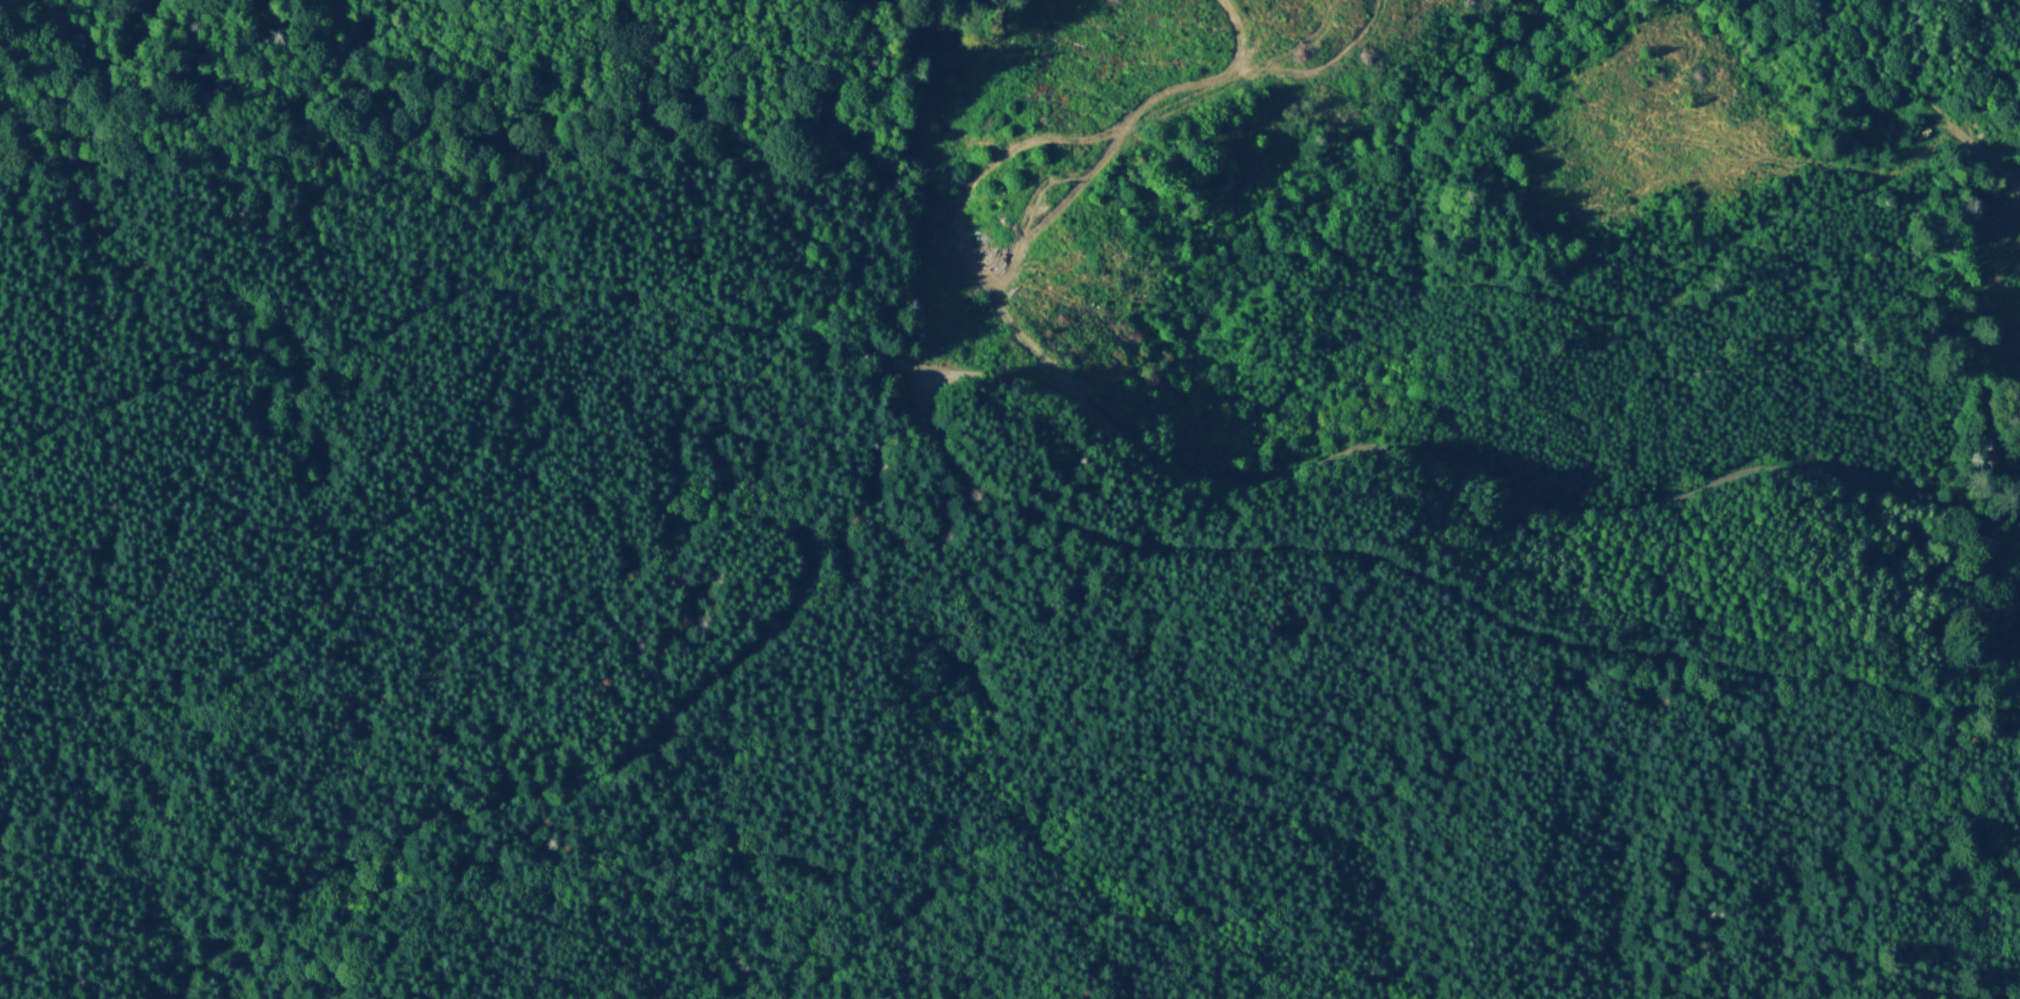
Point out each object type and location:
road: (1917, 94)
road: (1651, 305)
road: (716, 381)
road: (1044, 384)
road: (383, 525)

